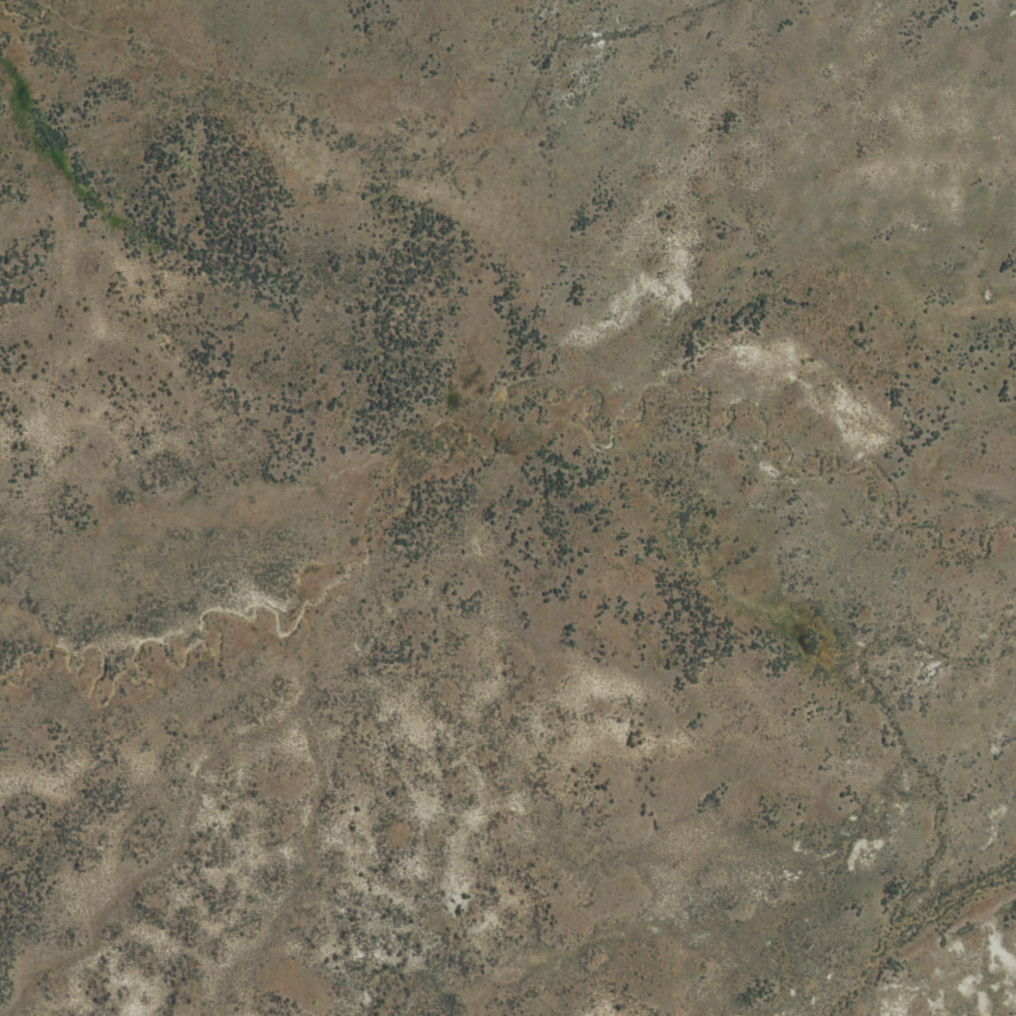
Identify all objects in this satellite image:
crop: (508, 508)

